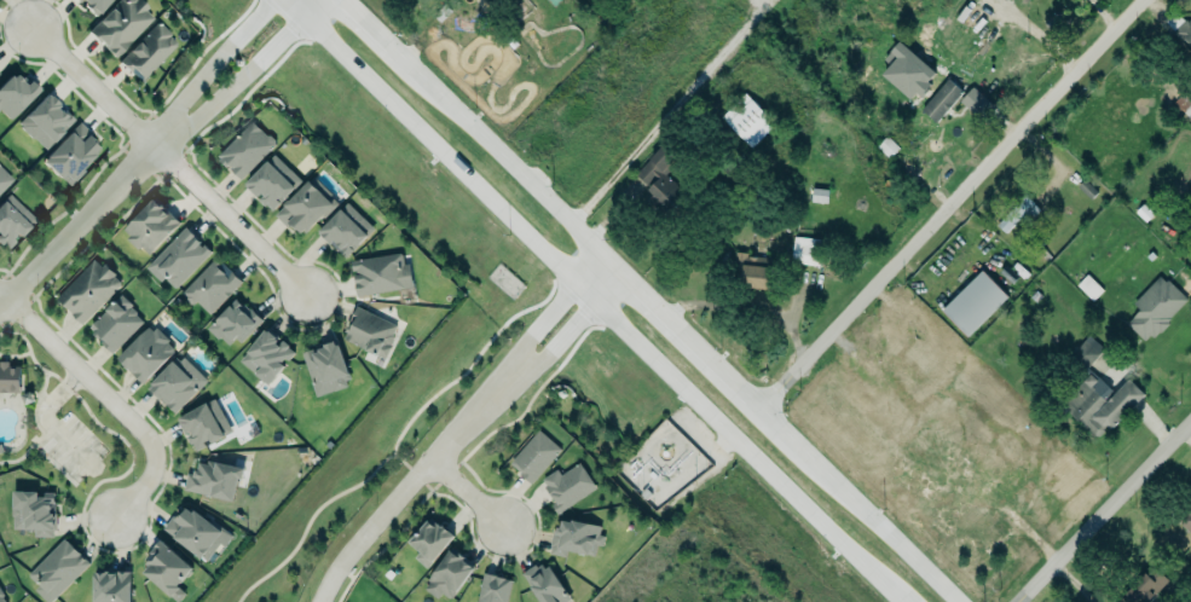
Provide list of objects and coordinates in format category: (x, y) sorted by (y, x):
building: (96, 4)
building: (120, 24)
building: (1185, 31)
road: (1035, 35)
building: (149, 48)
building: (906, 68)
road: (209, 69)
building: (0, 71)
road: (239, 80)
building: (15, 93)
building: (941, 100)
building: (977, 104)
building: (46, 118)
building: (747, 120)
building: (247, 146)
building: (71, 151)
road: (167, 160)
building: (5, 176)
building: (659, 179)
building: (273, 180)
building: (307, 204)
road: (948, 207)
building: (1016, 215)
building: (12, 218)
road: (76, 225)
building: (150, 226)
building: (347, 227)
building: (805, 250)
building: (178, 257)
building: (752, 271)
building: (381, 272)
building: (213, 284)
building: (88, 290)
road: (590, 303)
building: (973, 303)
road: (646, 305)
building: (1155, 308)
road: (547, 316)
building: (116, 322)
building: (233, 323)
building: (371, 330)
road: (566, 334)
building: (1087, 351)
building: (146, 353)
building: (266, 353)
building: (326, 366)
building: (10, 378)
building: (177, 383)
road: (108, 400)
building: (1100, 404)
building: (204, 423)
road: (1187, 436)
building: (533, 456)
building: (215, 477)
road: (407, 486)
building: (567, 486)
road: (467, 494)
building: (35, 511)
road: (1104, 514)
building: (1186, 519)
building: (196, 533)
building: (574, 538)
building: (430, 539)
building: (57, 569)
building: (168, 569)
building: (450, 574)
building: (549, 585)
building: (112, 586)
building: (1144, 586)
building: (495, 587)
building: (2, 595)

